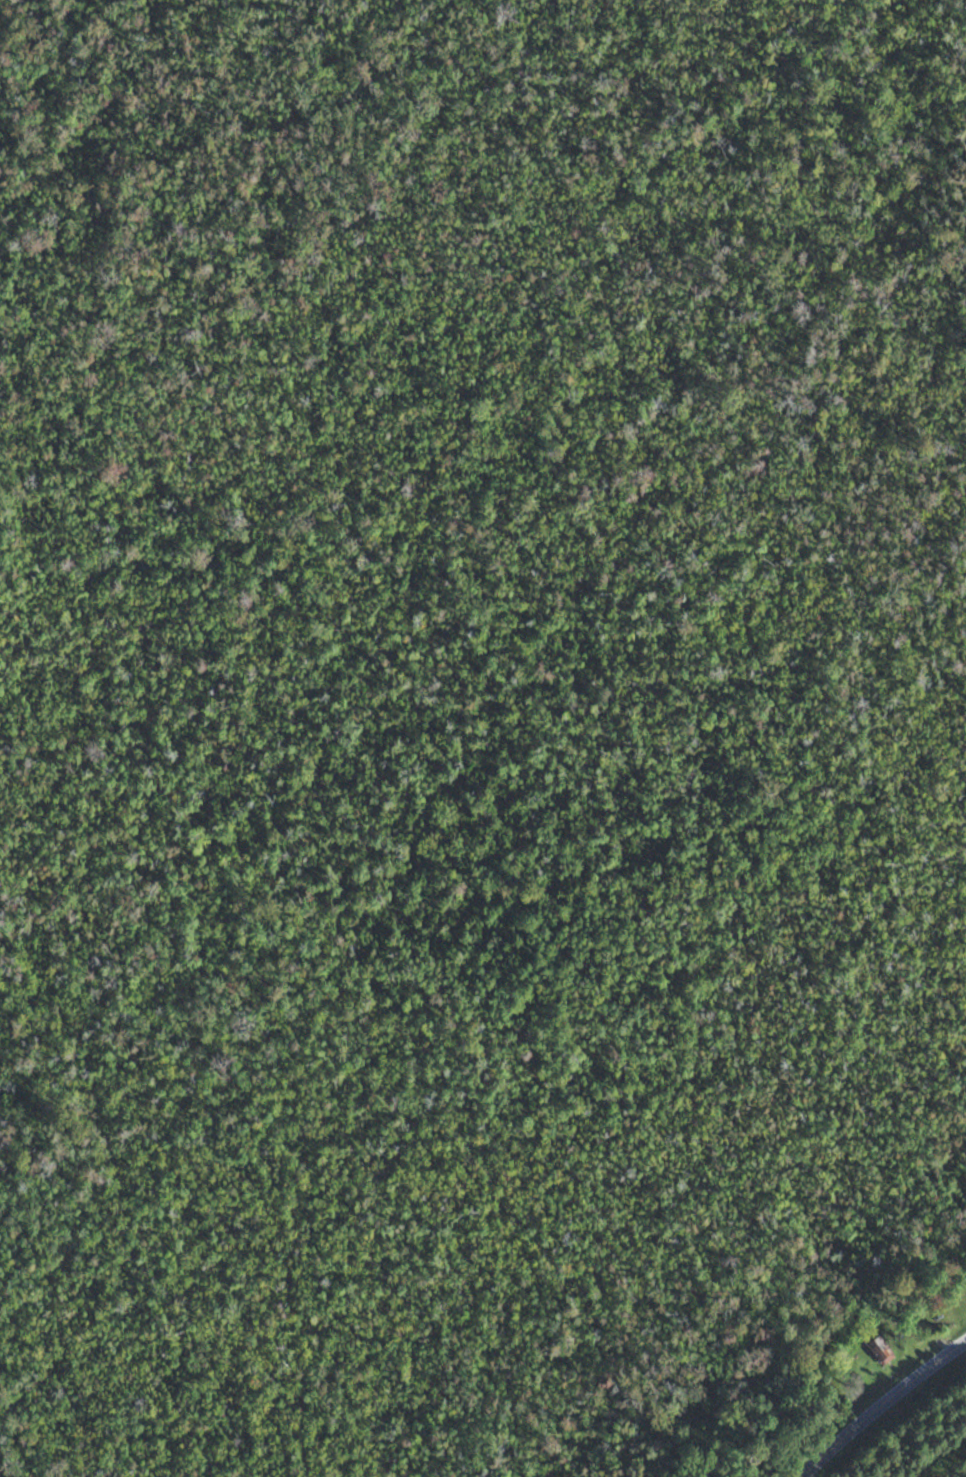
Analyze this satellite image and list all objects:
building: (879, 1348)
road: (882, 1411)

